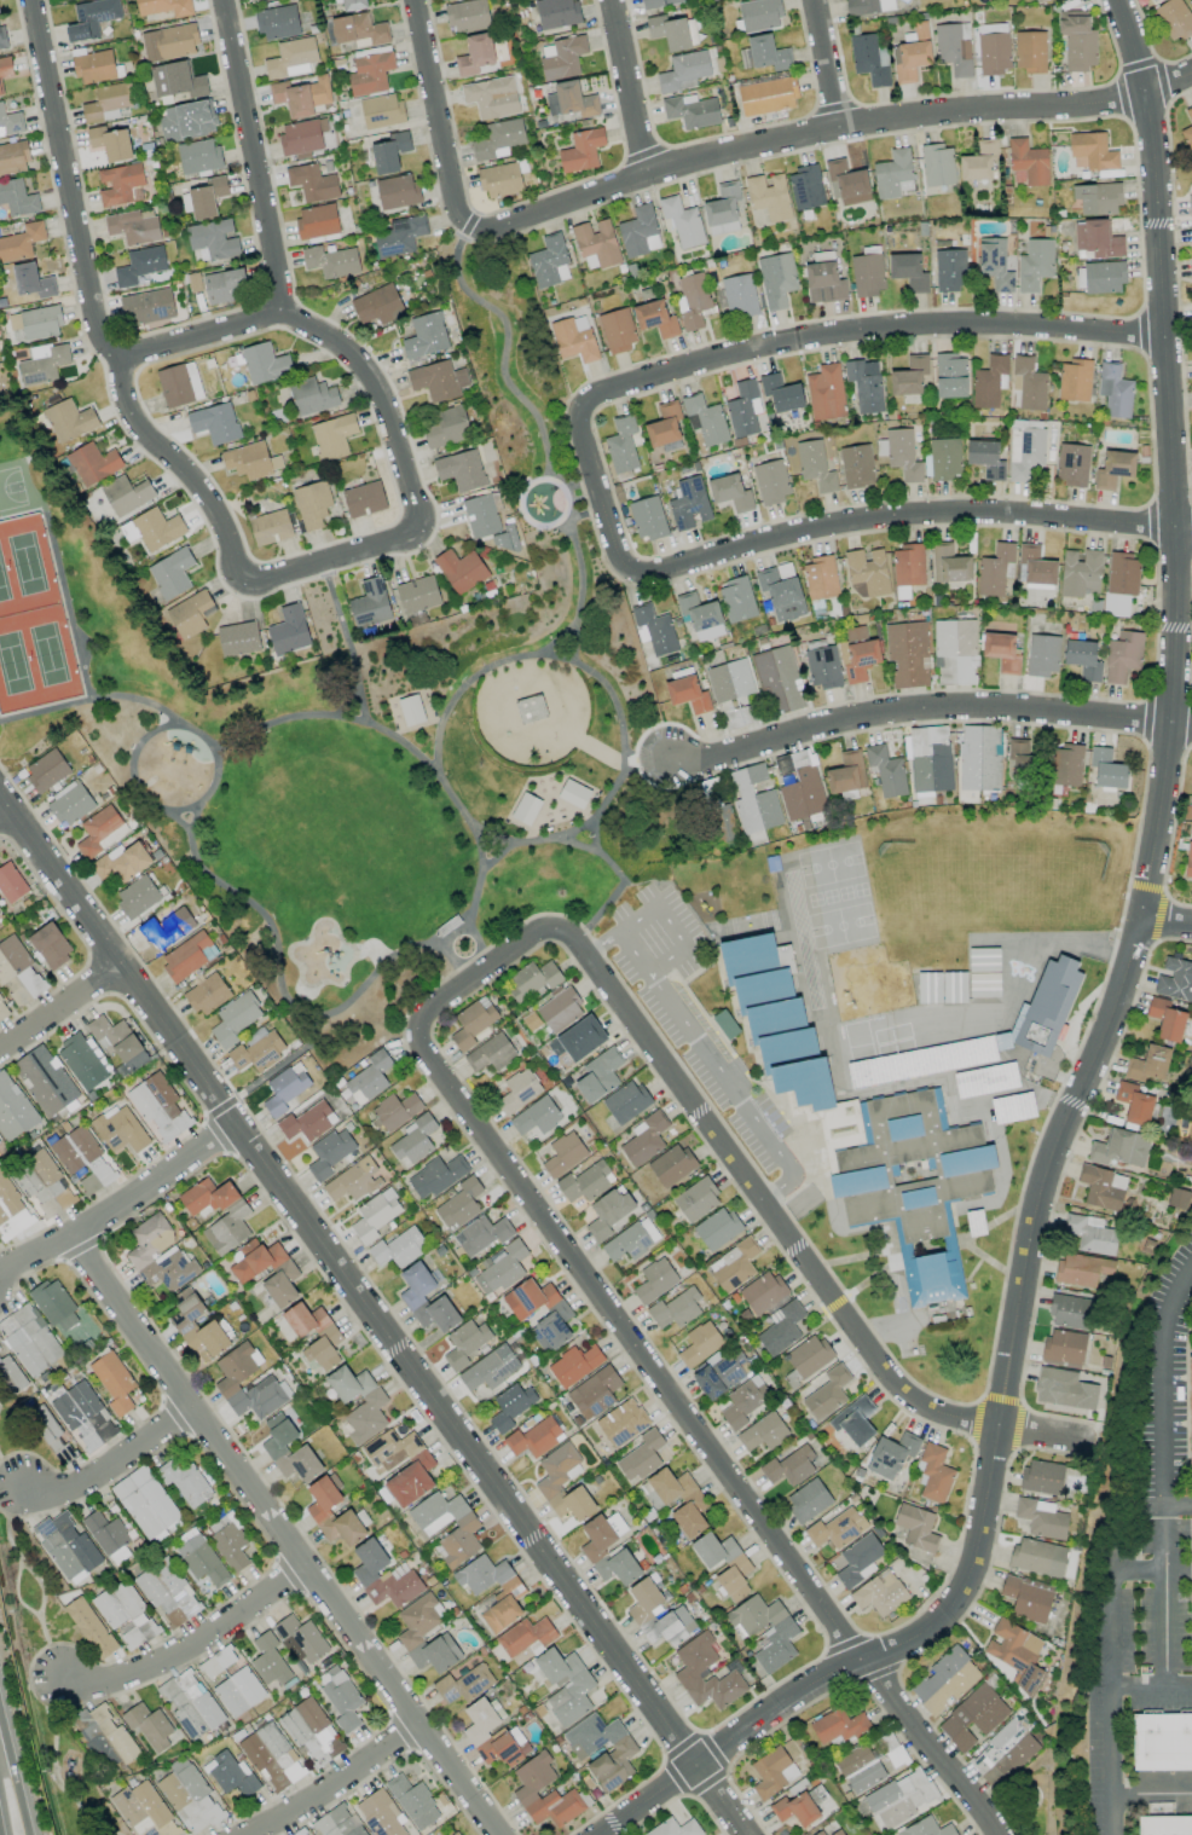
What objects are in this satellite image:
building: (250, 0)
building: (1038, 0)
building: (658, 2)
building: (352, 4)
building: (869, 6)
building: (164, 7)
building: (556, 13)
building: (759, 15)
building: (467, 16)
building: (92, 18)
building: (1174, 18)
building: (277, 22)
building: (358, 29)
building: (673, 31)
building: (2, 37)
building: (1077, 40)
building: (169, 41)
building: (954, 47)
building: (993, 48)
building: (1029, 51)
building: (764, 53)
building: (474, 54)
building: (912, 54)
building: (561, 57)
building: (291, 58)
building: (869, 59)
road: (826, 62)
building: (5, 66)
building: (94, 66)
building: (683, 71)
building: (370, 74)
building: (177, 80)
road: (1167, 82)
road: (629, 85)
building: (0, 93)
building: (301, 95)
building: (766, 95)
building: (491, 97)
building: (571, 100)
building: (108, 102)
building: (692, 110)
building: (381, 111)
road: (438, 115)
building: (187, 120)
building: (10, 123)
building: (1188, 129)
road: (798, 133)
building: (302, 135)
building: (498, 139)
building: (110, 143)
building: (581, 150)
building: (1090, 151)
road: (250, 152)
building: (389, 152)
building: (198, 156)
building: (13, 157)
building: (979, 162)
building: (1026, 163)
building: (938, 164)
building: (893, 174)
building: (499, 180)
building: (312, 183)
building: (847, 183)
road: (69, 184)
building: (120, 184)
building: (805, 187)
building: (398, 191)
building: (769, 197)
building: (17, 198)
building: (202, 198)
building: (1096, 198)
building: (1190, 199)
building: (722, 210)
building: (317, 221)
building: (682, 221)
building: (133, 226)
building: (638, 232)
building: (399, 236)
building: (1191, 237)
building: (1096, 239)
building: (21, 242)
building: (596, 244)
building: (330, 261)
building: (549, 261)
building: (139, 265)
building: (994, 265)
building: (1034, 265)
building: (908, 271)
building: (949, 271)
building: (867, 274)
building: (1104, 277)
building: (776, 279)
building: (31, 280)
building: (823, 283)
building: (225, 285)
building: (739, 295)
building: (693, 300)
building: (377, 305)
building: (146, 306)
building: (655, 318)
building: (36, 322)
building: (617, 330)
road: (199, 335)
building: (424, 336)
building: (573, 338)
road: (779, 346)
building: (42, 363)
building: (265, 364)
building: (950, 375)
building: (909, 376)
building: (1074, 380)
building: (438, 381)
building: (989, 382)
building: (1028, 383)
building: (179, 384)
building: (864, 384)
building: (1115, 390)
building: (826, 392)
building: (781, 393)
building: (312, 396)
building: (743, 409)
building: (705, 419)
building: (69, 421)
building: (215, 423)
building: (664, 424)
building: (445, 428)
building: (332, 436)
road: (542, 438)
building: (621, 445)
building: (1025, 448)
building: (899, 453)
building: (944, 458)
building: (985, 458)
building: (250, 461)
building: (93, 463)
building: (1071, 464)
building: (815, 465)
building: (856, 467)
building: (1113, 468)
building: (461, 469)
building: (771, 481)
park: (11, 490)
building: (730, 492)
building: (126, 496)
building: (364, 498)
building: (688, 503)
building: (312, 504)
road: (909, 514)
building: (481, 515)
building: (647, 519)
building: (271, 527)
building: (152, 528)
building: (507, 539)
road: (345, 560)
building: (949, 565)
building: (1036, 565)
building: (907, 568)
building: (461, 569)
building: (994, 569)
building: (170, 573)
building: (867, 573)
building: (1080, 573)
building: (820, 578)
building: (1121, 583)
building: (781, 591)
building: (417, 595)
building: (736, 600)
building: (369, 603)
building: (190, 614)
building: (700, 615)
park: (33, 624)
building: (655, 629)
building: (289, 630)
building: (238, 638)
building: (955, 652)
building: (1001, 652)
building: (857, 654)
building: (907, 654)
building: (1042, 655)
building: (1122, 656)
building: (1083, 659)
building: (822, 667)
building: (779, 678)
building: (729, 681)
road: (608, 691)
building: (687, 694)
road: (927, 702)
building: (531, 708)
building: (410, 710)
road: (314, 714)
park: (361, 722)
building: (979, 757)
building: (930, 759)
building: (1020, 760)
building: (1066, 764)
building: (1107, 769)
building: (46, 770)
building: (886, 771)
building: (846, 772)
building: (800, 783)
building: (573, 794)
building: (753, 800)
building: (70, 804)
building: (526, 809)
road: (1, 810)
building: (100, 832)
road: (595, 837)
building: (1188, 861)
building: (120, 863)
building: (771, 864)
park: (831, 864)
road: (617, 872)
park: (1058, 880)
park: (930, 881)
building: (11, 884)
building: (137, 897)
road: (1165, 919)
park: (840, 925)
building: (166, 926)
road: (671, 927)
building: (50, 945)
building: (187, 956)
building: (983, 960)
building: (21, 966)
building: (1175, 979)
building: (532, 980)
building: (984, 985)
building: (954, 986)
building: (928, 988)
building: (207, 994)
road: (58, 1006)
building: (1047, 1006)
building: (2, 1009)
building: (560, 1009)
building: (236, 1018)
building: (1165, 1018)
parking lot: (694, 1019)
road: (1106, 1019)
building: (473, 1023)
building: (725, 1024)
building: (577, 1040)
building: (118, 1041)
building: (1001, 1041)
building: (258, 1050)
road: (706, 1052)
building: (490, 1053)
building: (85, 1061)
building: (921, 1063)
building: (1148, 1064)
building: (598, 1075)
building: (369, 1078)
building: (45, 1079)
building: (985, 1079)
building: (285, 1088)
building: (517, 1090)
building: (625, 1102)
building: (1133, 1104)
building: (158, 1107)
building: (1012, 1107)
building: (13, 1108)
building: (394, 1111)
building: (536, 1116)
building: (307, 1122)
building: (861, 1123)
building: (120, 1129)
building: (644, 1139)
building: (413, 1141)
flagpole: (789, 1141)
building: (1119, 1147)
building: (329, 1153)
building: (563, 1154)
building: (65, 1156)
building: (91, 1158)
building: (671, 1165)
road: (741, 1173)
building: (436, 1176)
building: (41, 1177)
building: (353, 1180)
building: (584, 1182)
building: (1101, 1187)
building: (696, 1199)
building: (1180, 1199)
road: (115, 1204)
building: (459, 1204)
building: (11, 1211)
building: (218, 1212)
building: (608, 1214)
building: (375, 1215)
building: (974, 1223)
building: (717, 1228)
building: (1089, 1233)
building: (481, 1234)
building: (631, 1240)
building: (398, 1248)
building: (158, 1255)
building: (733, 1266)
building: (502, 1268)
building: (1081, 1269)
building: (245, 1270)
building: (654, 1280)
building: (762, 1292)
building: (413, 1299)
building: (54, 1306)
building: (675, 1309)
building: (1070, 1310)
road: (371, 1319)
building: (555, 1319)
building: (184, 1325)
building: (781, 1329)
building: (291, 1332)
building: (29, 1339)
road: (630, 1341)
building: (464, 1343)
building: (699, 1344)
building: (1063, 1348)
building: (808, 1355)
building: (573, 1365)
building: (490, 1368)
building: (722, 1373)
building: (11, 1374)
building: (230, 1379)
building: (114, 1382)
building: (1064, 1388)
building: (594, 1393)
building: (827, 1393)
building: (743, 1401)
building: (358, 1402)
building: (510, 1406)
building: (83, 1417)
building: (1190, 1417)
building: (855, 1420)
building: (621, 1423)
building: (50, 1432)
building: (763, 1432)
building: (534, 1437)
building: (276, 1449)
building: (891, 1454)
building: (641, 1457)
road: (110, 1464)
building: (789, 1466)
building: (418, 1468)
building: (934, 1474)
road: (1164, 1474)
building: (1042, 1477)
building: (554, 1480)
building: (185, 1483)
building: (650, 1495)
building: (681, 1500)
building: (808, 1500)
building: (146, 1505)
road: (1177, 1506)
building: (319, 1513)
building: (1042, 1518)
building: (916, 1527)
building: (837, 1528)
building: (463, 1530)
building: (108, 1536)
road: (277, 1540)
building: (66, 1546)
building: (230, 1546)
building: (713, 1550)
building: (1037, 1557)
building: (201, 1561)
building: (858, 1561)
building: (382, 1576)
building: (734, 1579)
building: (167, 1591)
road: (16, 1593)
building: (509, 1593)
building: (880, 1593)
building: (1026, 1598)
building: (644, 1600)
building: (126, 1616)
building: (89, 1627)
building: (670, 1627)
building: (764, 1631)
building: (411, 1632)
building: (525, 1636)
building: (301, 1639)
road: (46, 1642)
road: (191, 1652)
building: (1013, 1652)
building: (268, 1661)
building: (705, 1673)
road: (1109, 1674)
building: (944, 1680)
building: (463, 1684)
building: (565, 1685)
road: (1150, 1689)
building: (238, 1691)
building: (340, 1697)
building: (191, 1704)
building: (972, 1717)
building: (149, 1725)
building: (838, 1726)
building: (311, 1731)
building: (492, 1733)
building: (104, 1737)
road: (13, 1741)
building: (1162, 1741)
road: (931, 1747)
building: (601, 1749)
building: (1003, 1753)
building: (271, 1758)
building: (858, 1769)
building: (773, 1772)
building: (231, 1775)
park: (71, 1777)
road: (338, 1784)
building: (544, 1793)
road: (1150, 1795)
building: (189, 1796)
building: (901, 1798)
park: (1030, 1798)
building: (413, 1802)
building: (795, 1808)
building: (144, 1810)
building: (380, 1813)
road: (29, 1816)
building: (337, 1823)
building: (1165, 1825)
building: (675, 1828)
building: (926, 1828)
building: (300, 1833)
building: (820, 1833)
building: (837, 1833)
building: (456, 1834)

